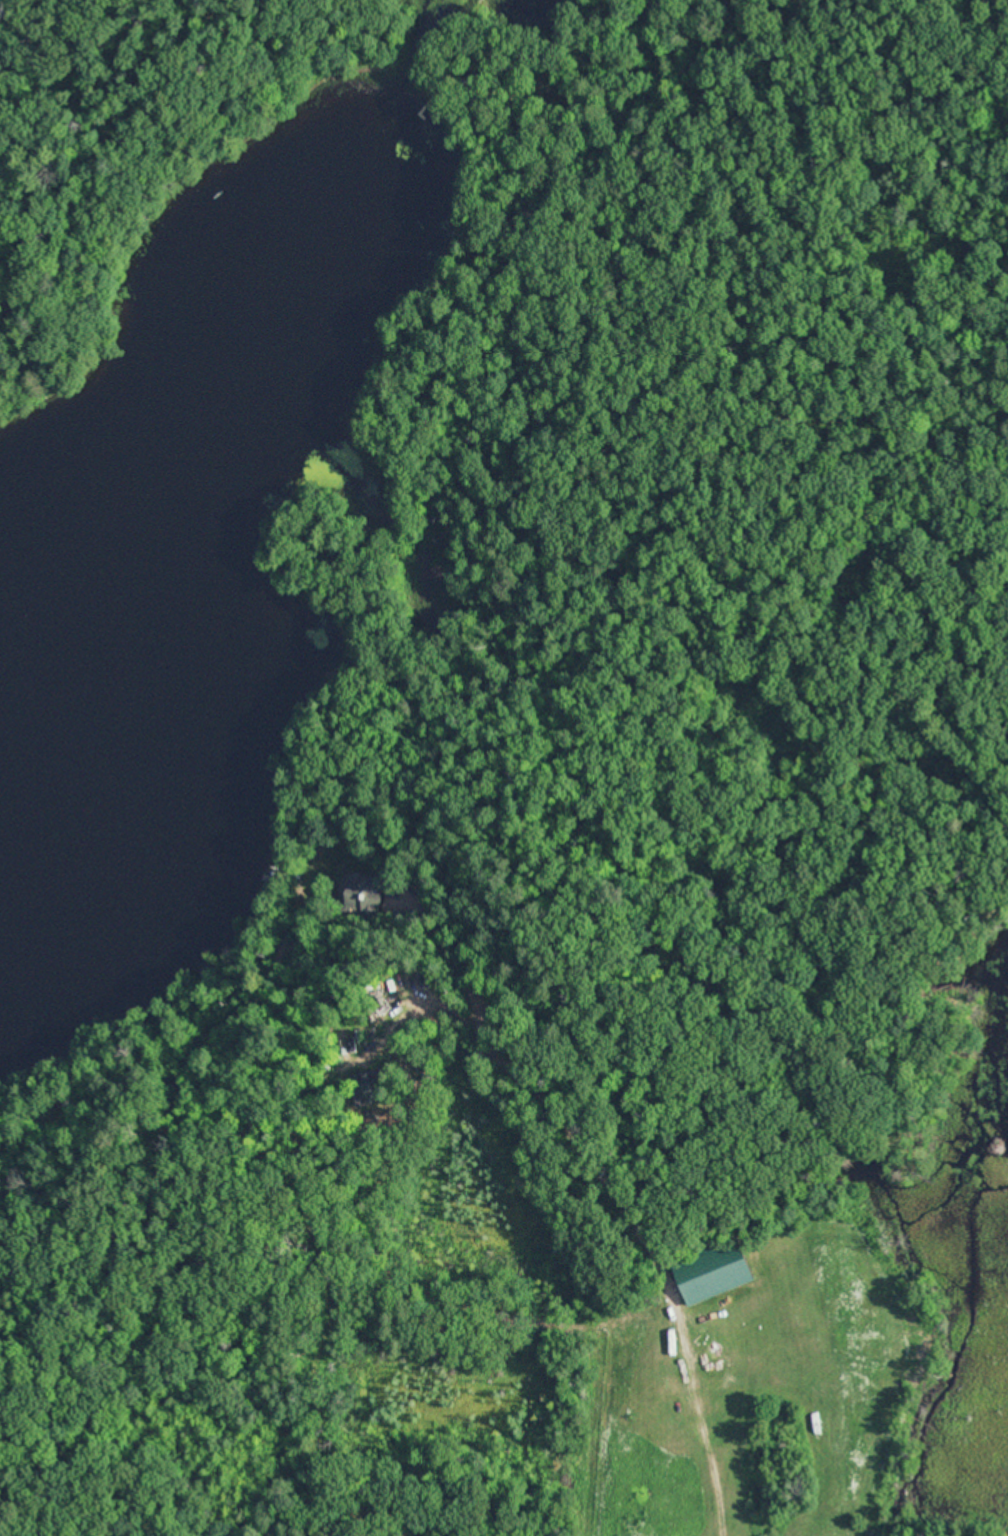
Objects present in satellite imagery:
building: (467, 81)
road: (657, 94)
building: (359, 895)
road: (608, 954)
building: (367, 1089)
building: (710, 1274)
road: (345, 1450)

